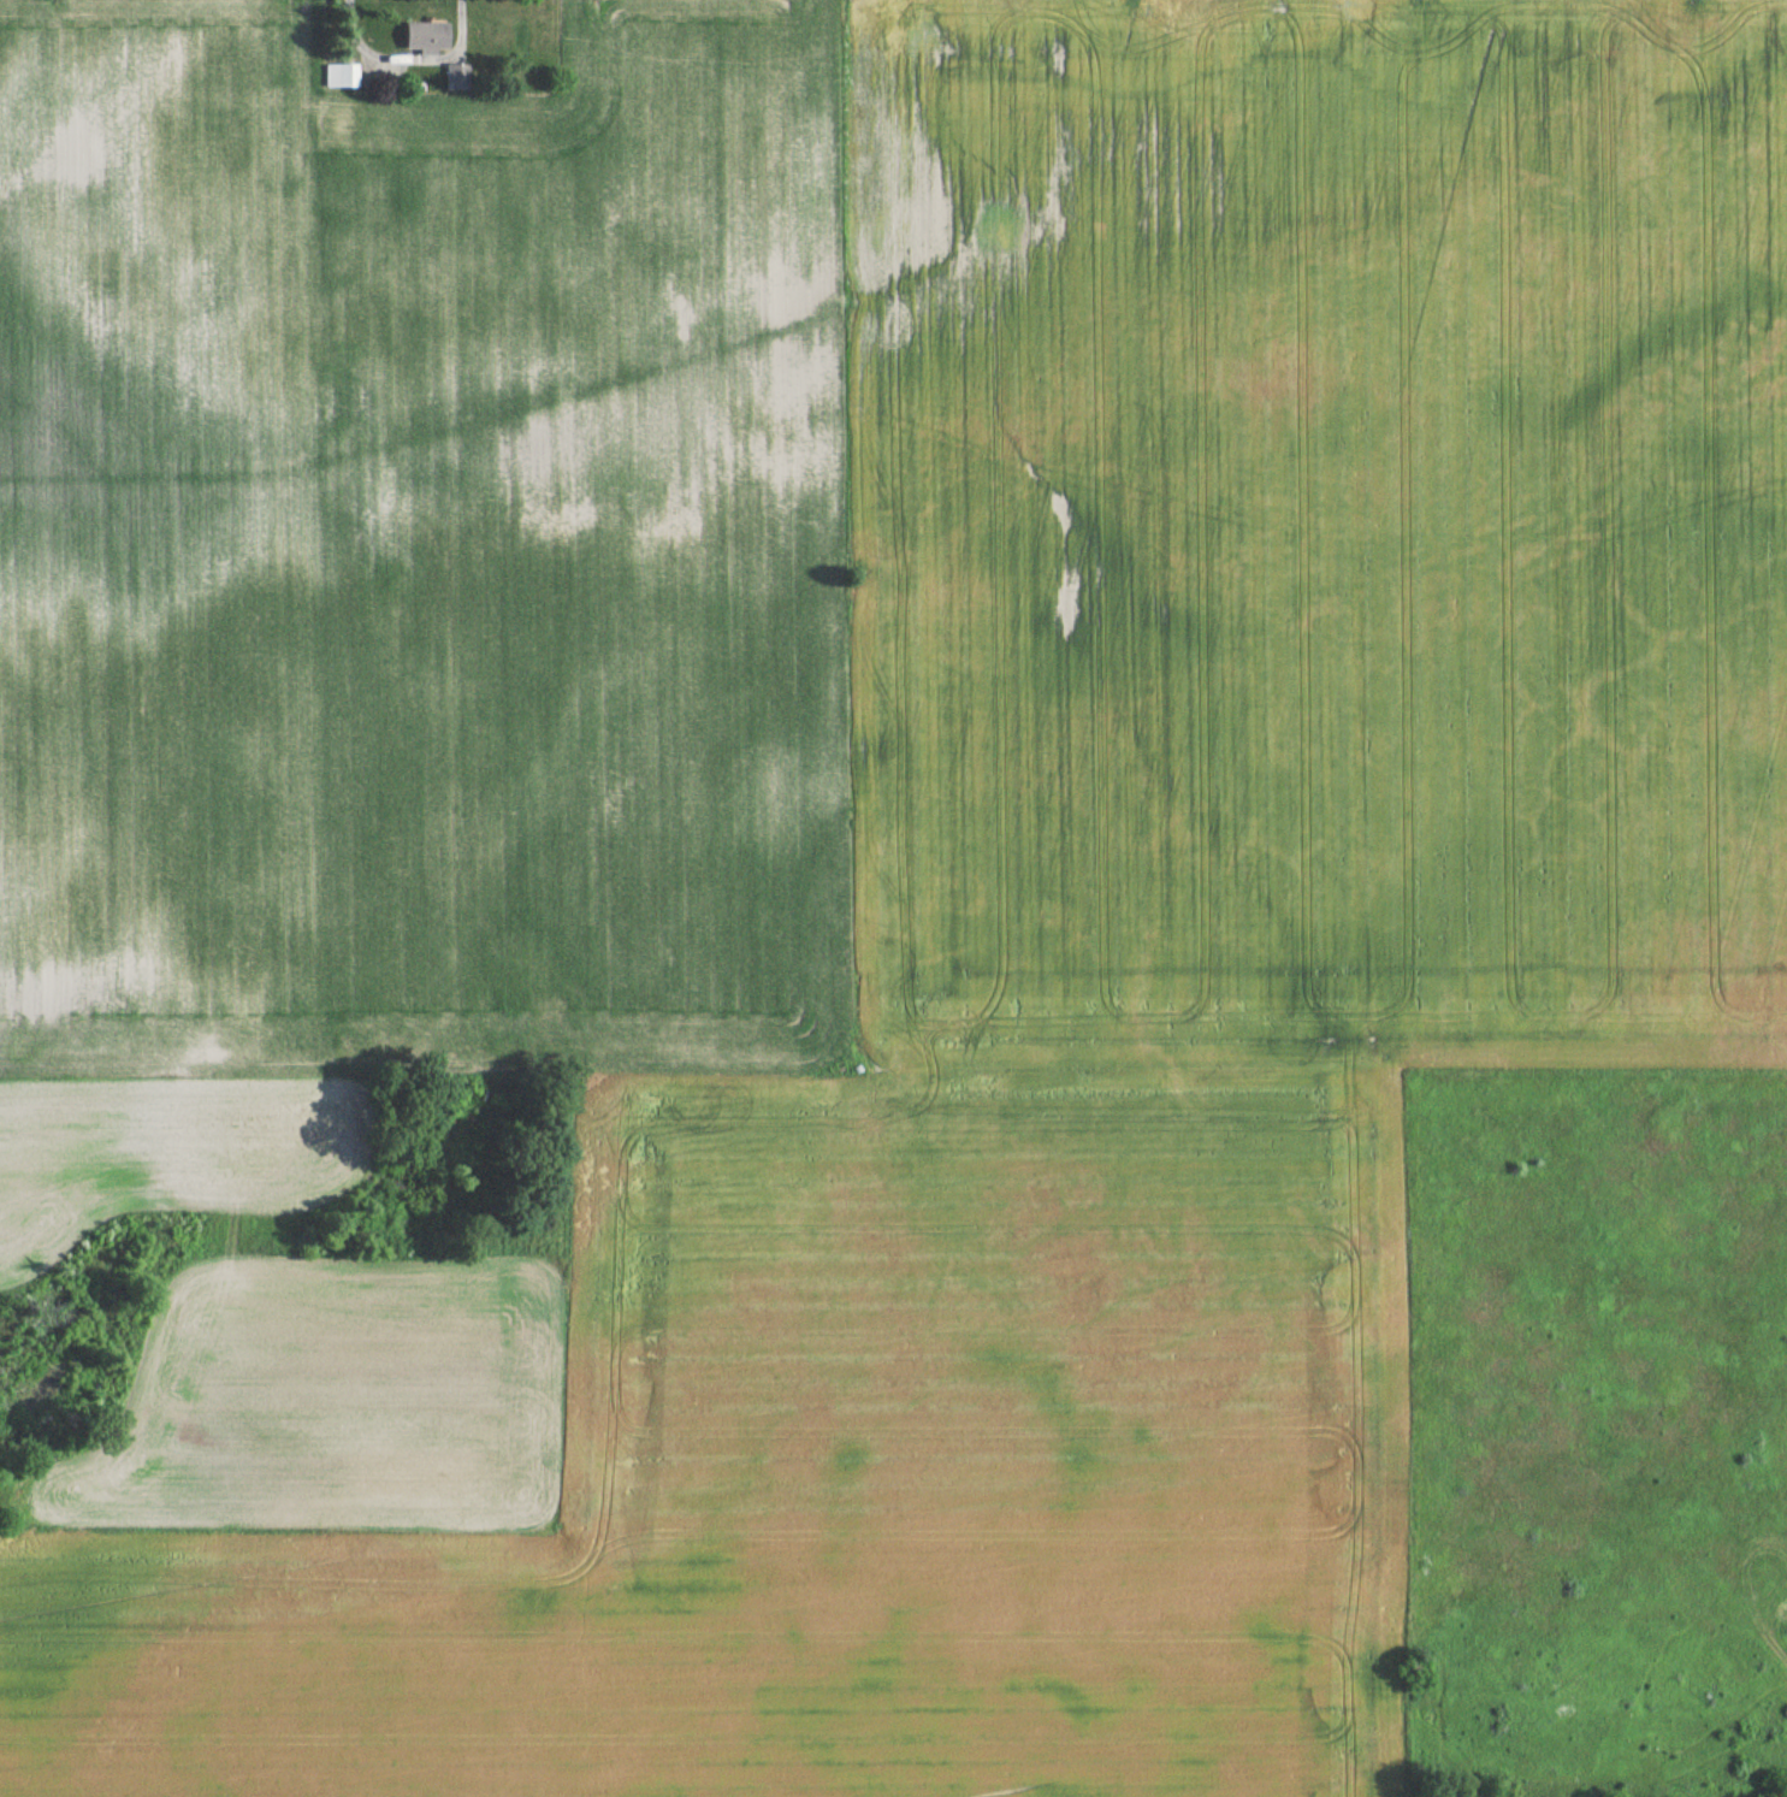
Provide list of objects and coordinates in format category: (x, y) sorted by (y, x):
building: (425, 36)
building: (456, 77)

